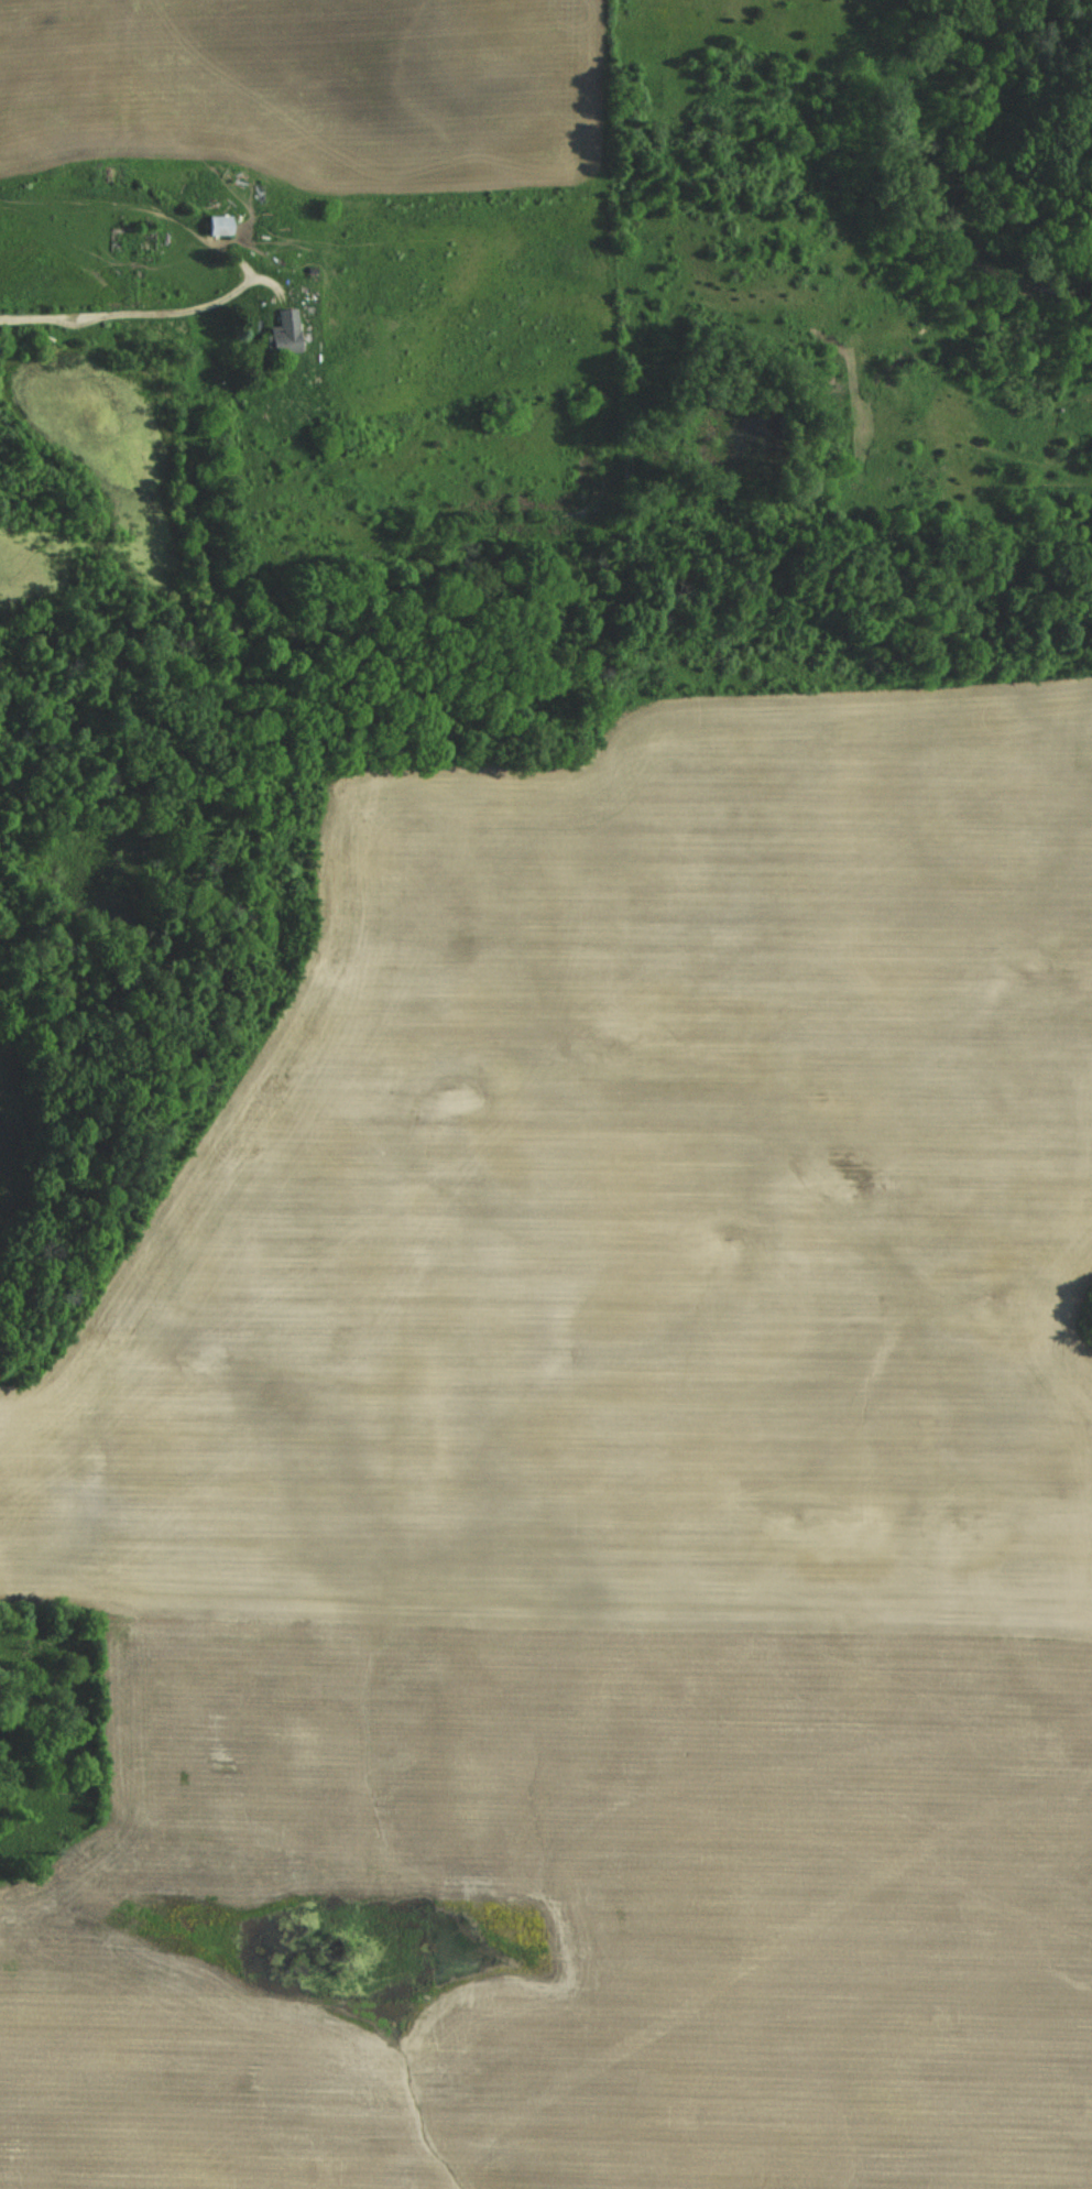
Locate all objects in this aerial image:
building: (218, 226)
road: (134, 311)
building: (283, 334)

